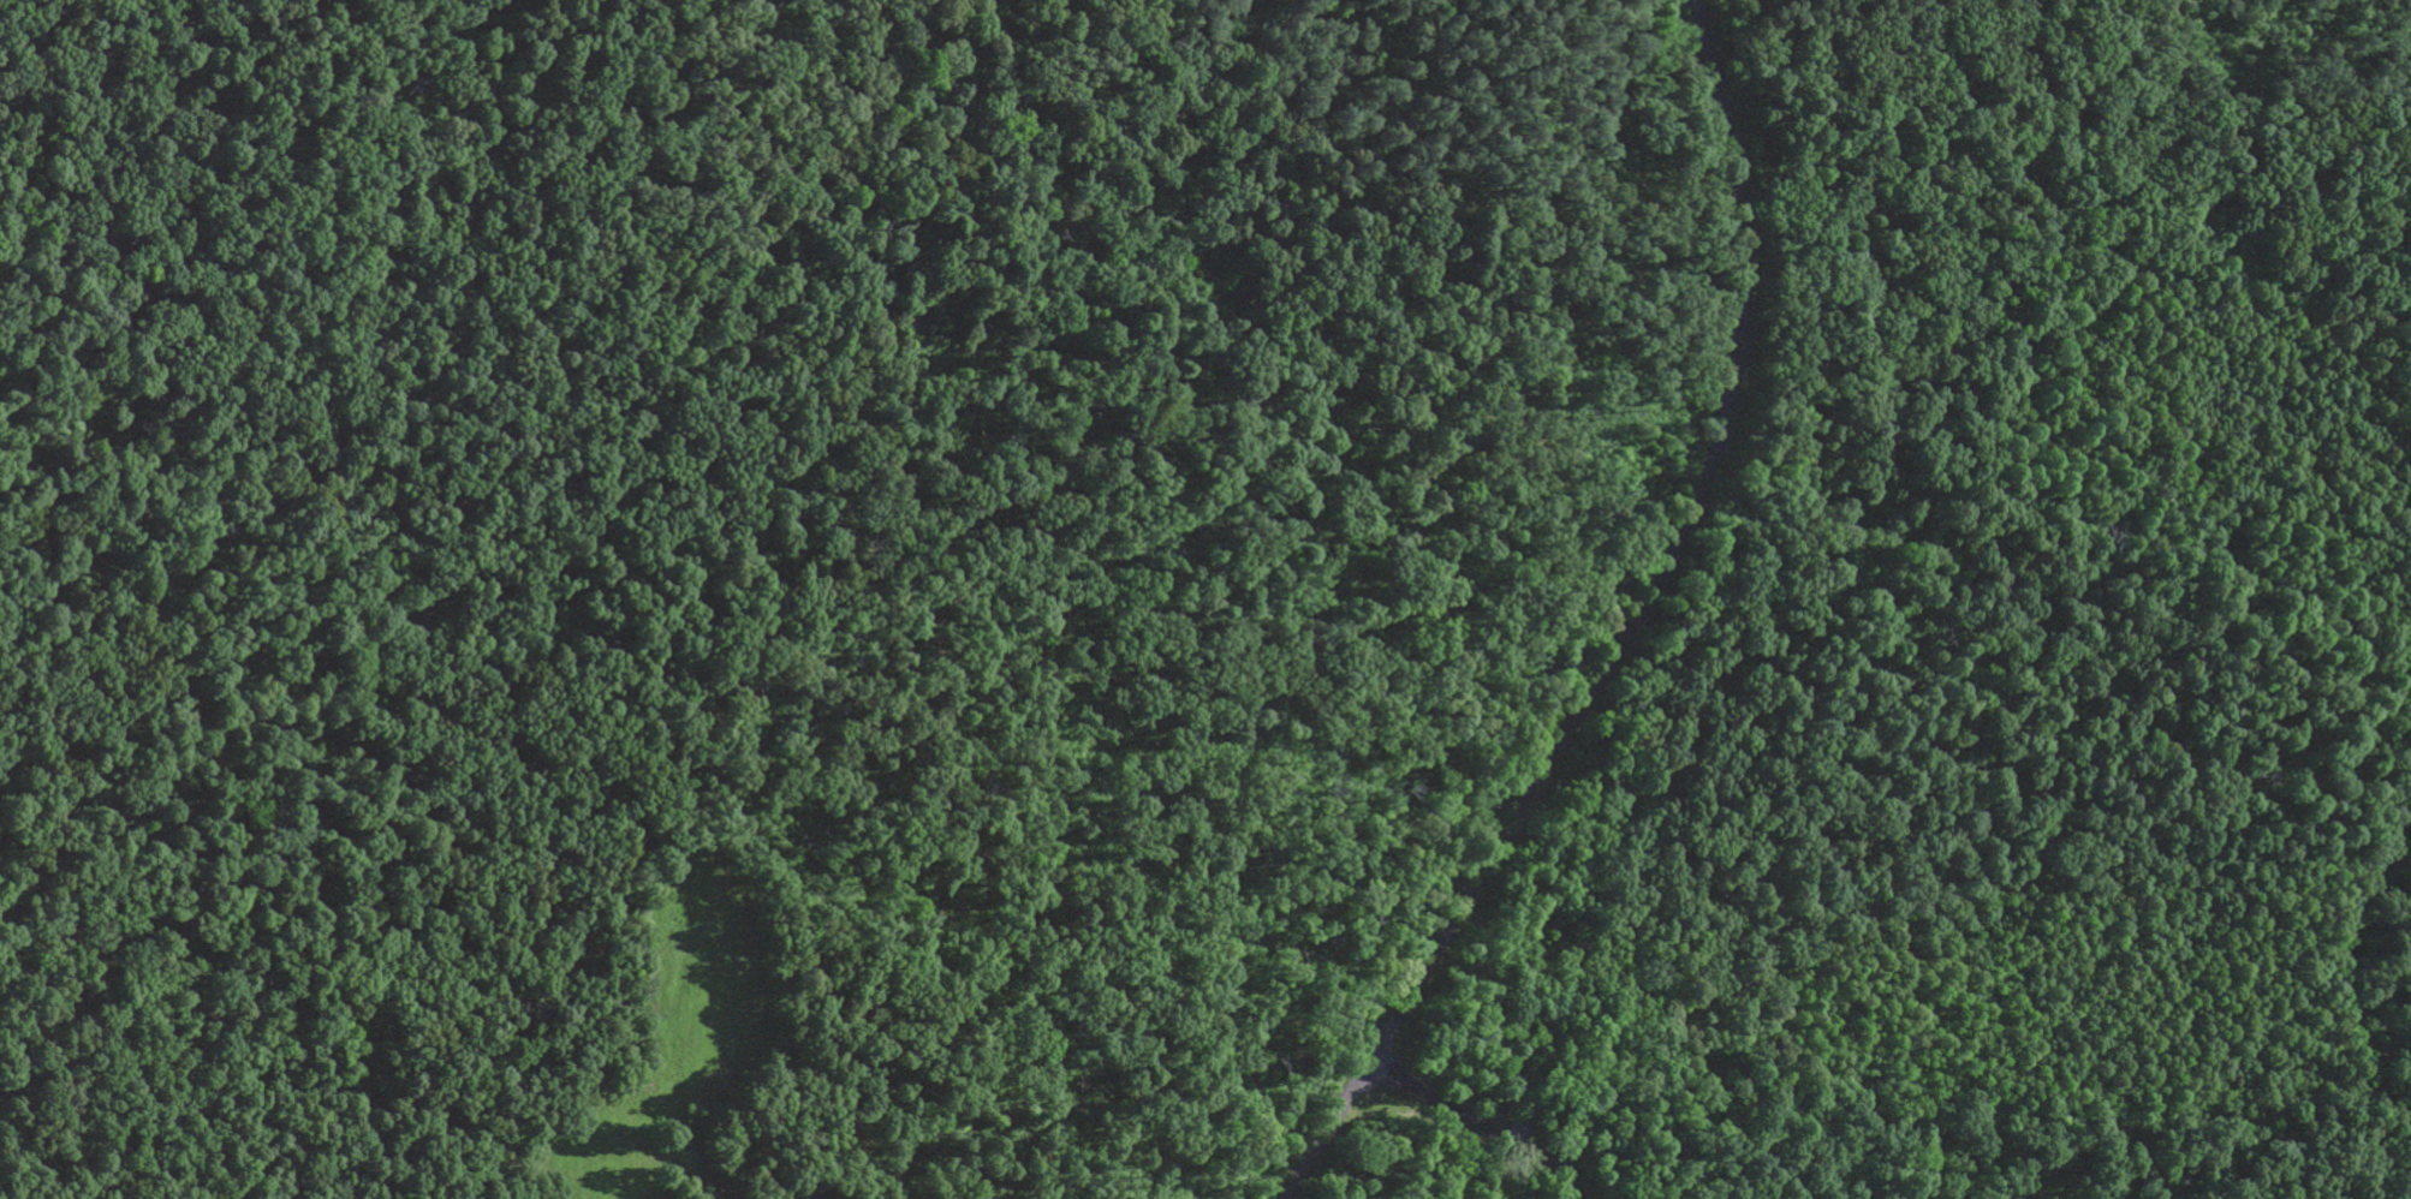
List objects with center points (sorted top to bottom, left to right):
road: (1629, 634)
road: (2347, 996)
road: (1472, 1125)

